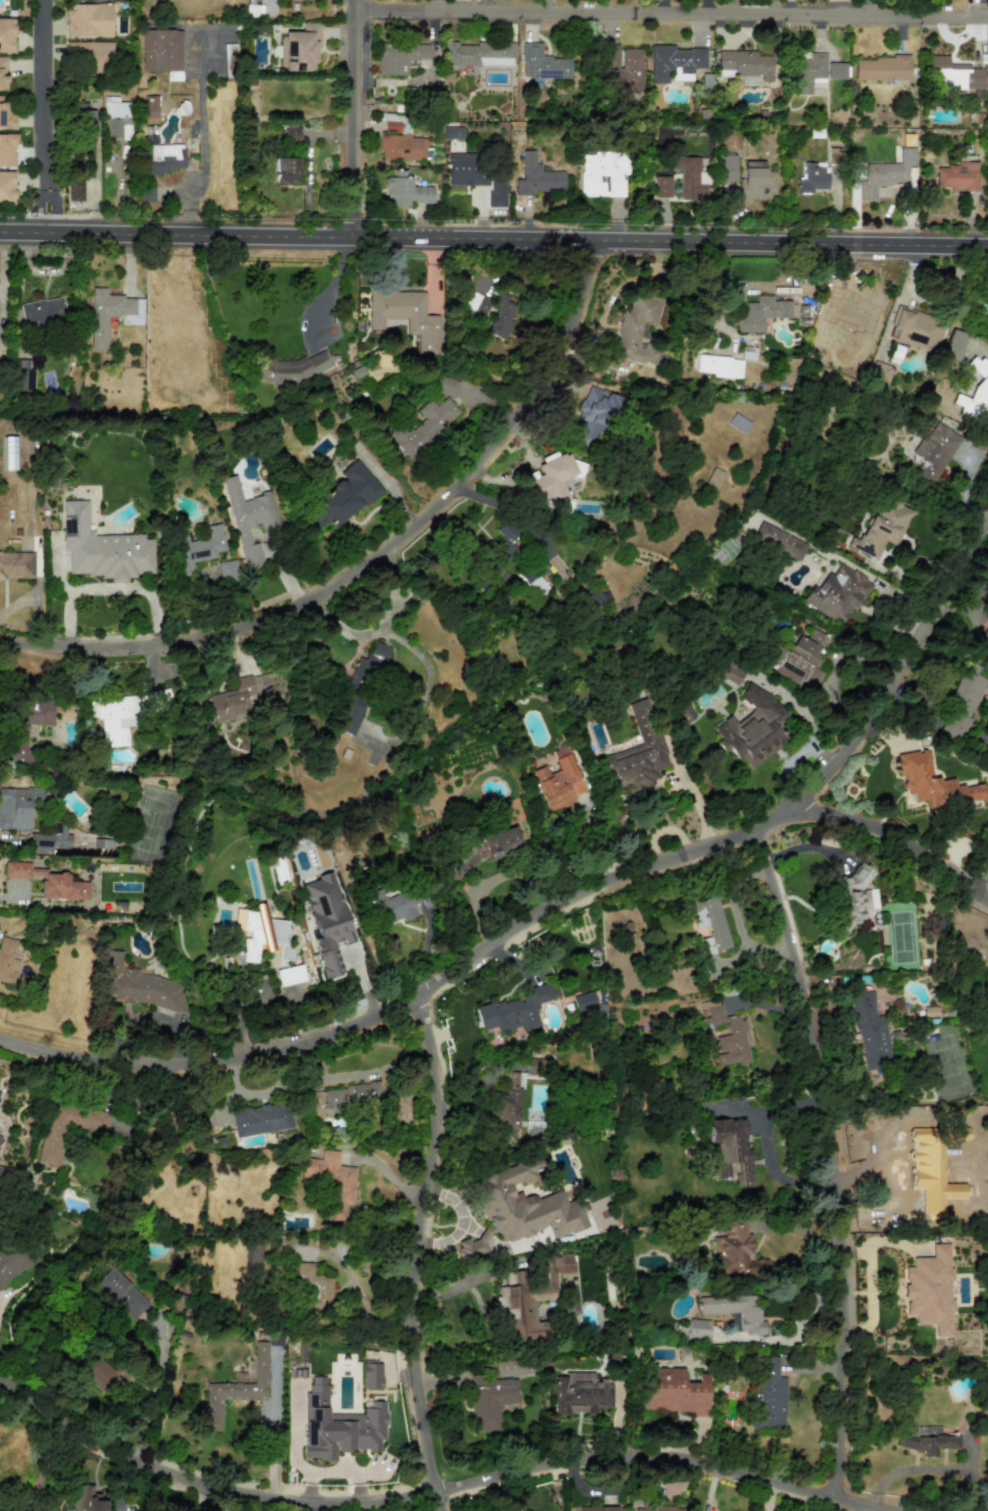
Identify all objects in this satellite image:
road: (861, 8)
building: (261, 9)
road: (670, 12)
building: (87, 20)
building: (6, 35)
building: (299, 48)
building: (230, 52)
building: (479, 53)
building: (91, 56)
building: (401, 58)
building: (674, 62)
building: (542, 63)
building: (746, 66)
building: (624, 67)
building: (881, 68)
building: (836, 70)
building: (807, 72)
building: (2, 73)
building: (952, 74)
building: (150, 106)
building: (6, 115)
road: (40, 116)
building: (84, 118)
road: (351, 118)
building: (291, 133)
building: (452, 133)
road: (202, 134)
building: (400, 141)
building: (7, 150)
building: (835, 155)
building: (162, 156)
building: (727, 167)
building: (286, 169)
building: (466, 170)
building: (603, 173)
building: (885, 174)
building: (957, 176)
building: (536, 177)
building: (690, 177)
building: (812, 178)
building: (756, 181)
building: (663, 186)
building: (6, 187)
building: (75, 190)
building: (404, 190)
building: (497, 191)
building: (146, 193)
building: (987, 207)
road: (494, 239)
building: (476, 303)
building: (42, 312)
building: (762, 313)
building: (111, 314)
building: (405, 316)
building: (501, 318)
building: (916, 329)
building: (639, 330)
building: (986, 338)
building: (953, 345)
building: (719, 366)
building: (291, 368)
building: (880, 374)
building: (22, 376)
building: (446, 386)
building: (975, 394)
building: (595, 413)
building: (424, 427)
building: (935, 451)
building: (9, 453)
building: (552, 478)
building: (713, 478)
building: (344, 496)
road: (513, 507)
building: (249, 519)
building: (881, 529)
building: (504, 540)
building: (779, 541)
building: (102, 548)
building: (199, 548)
road: (377, 560)
building: (17, 564)
building: (228, 571)
building: (533, 583)
building: (837, 594)
building: (600, 598)
road: (876, 602)
building: (987, 637)
building: (801, 660)
building: (731, 673)
building: (358, 690)
building: (160, 699)
building: (232, 699)
building: (962, 703)
building: (116, 718)
building: (26, 728)
building: (753, 728)
building: (636, 754)
building: (558, 783)
building: (935, 784)
building: (17, 807)
building: (50, 839)
road: (889, 840)
building: (48, 881)
road: (561, 893)
building: (855, 895)
building: (392, 906)
building: (326, 921)
building: (711, 921)
building: (260, 934)
building: (630, 942)
building: (7, 960)
building: (290, 974)
building: (137, 986)
building: (584, 1002)
building: (516, 1009)
building: (930, 1011)
building: (870, 1032)
building: (729, 1037)
building: (535, 1067)
building: (507, 1109)
building: (917, 1113)
building: (261, 1119)
building: (0, 1135)
building: (51, 1148)
building: (731, 1150)
road: (833, 1158)
building: (913, 1162)
building: (0, 1169)
building: (332, 1180)
building: (520, 1208)
road: (419, 1249)
building: (735, 1251)
building: (254, 1254)
building: (15, 1260)
road: (470, 1281)
building: (315, 1284)
building: (930, 1290)
building: (120, 1293)
building: (529, 1295)
road: (364, 1299)
building: (735, 1310)
building: (698, 1328)
building: (512, 1368)
building: (371, 1376)
building: (673, 1391)
road: (153, 1392)
building: (581, 1393)
building: (230, 1396)
building: (769, 1397)
building: (490, 1400)
building: (338, 1424)
building: (927, 1440)
road: (272, 1450)
road: (44, 1465)
road: (925, 1468)
road: (983, 1486)
building: (87, 1499)
road: (427, 1499)
building: (601, 1508)
building: (655, 1508)

